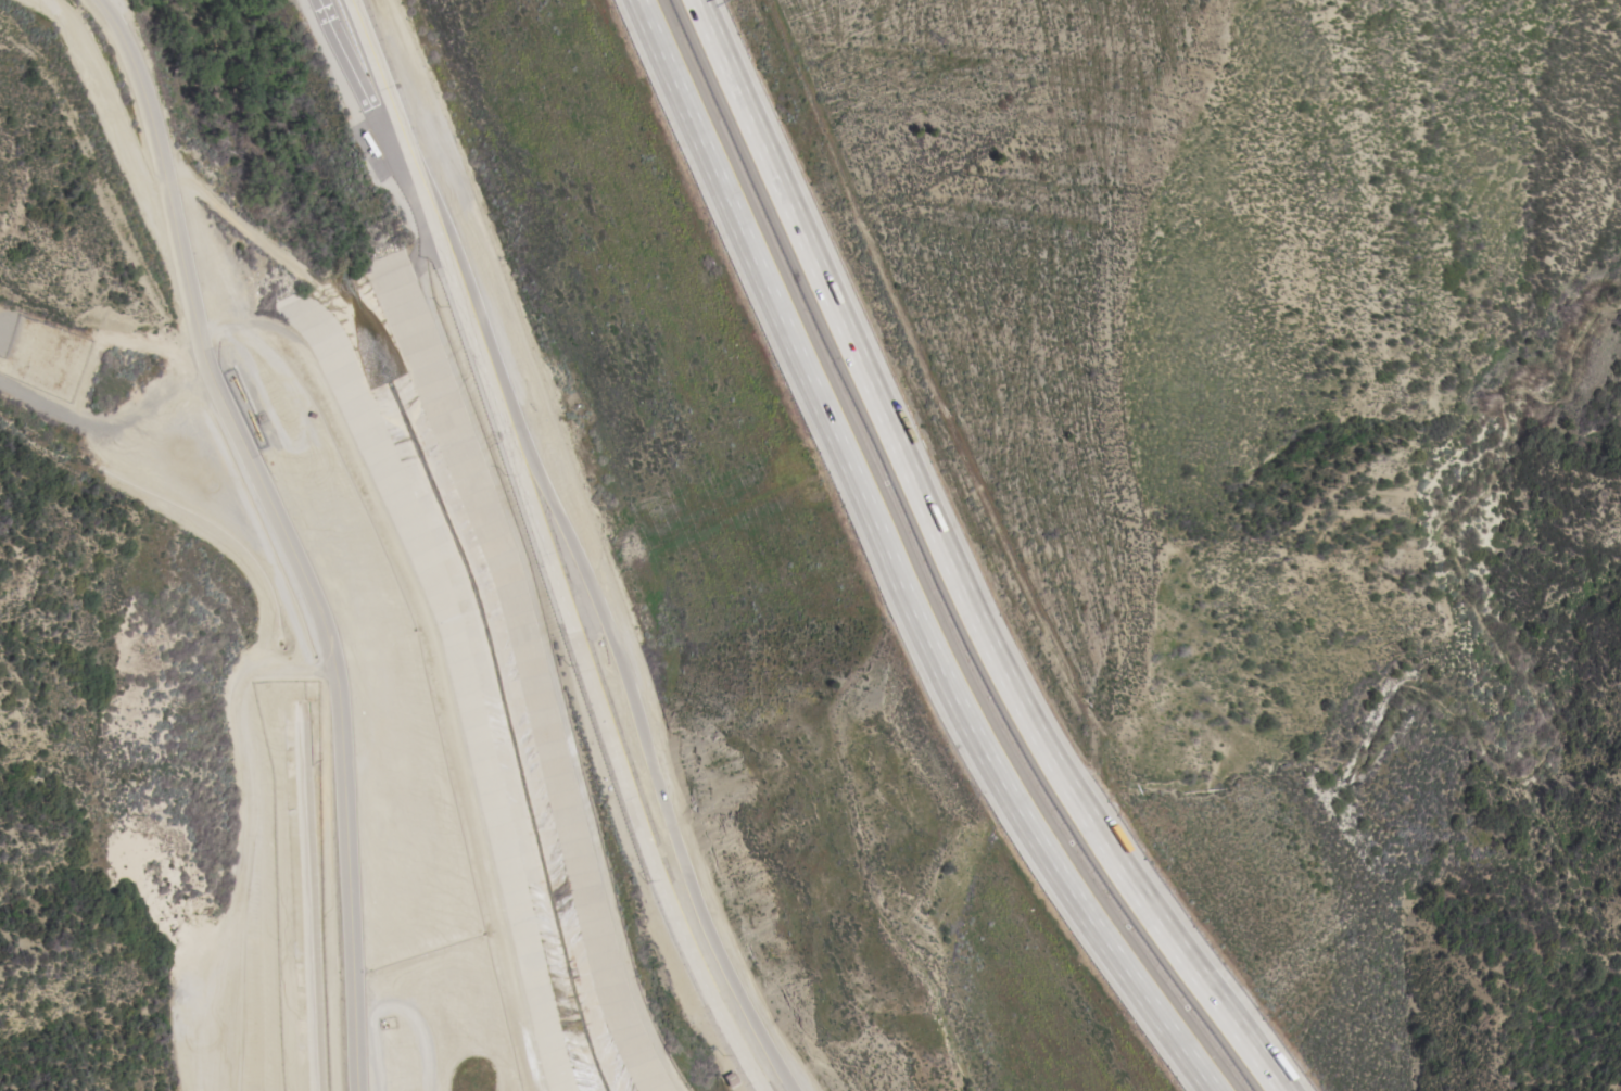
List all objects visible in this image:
road: (401, 115)
road: (501, 283)
road: (287, 529)
road: (887, 563)
road: (952, 566)
road: (624, 661)
road: (590, 668)

